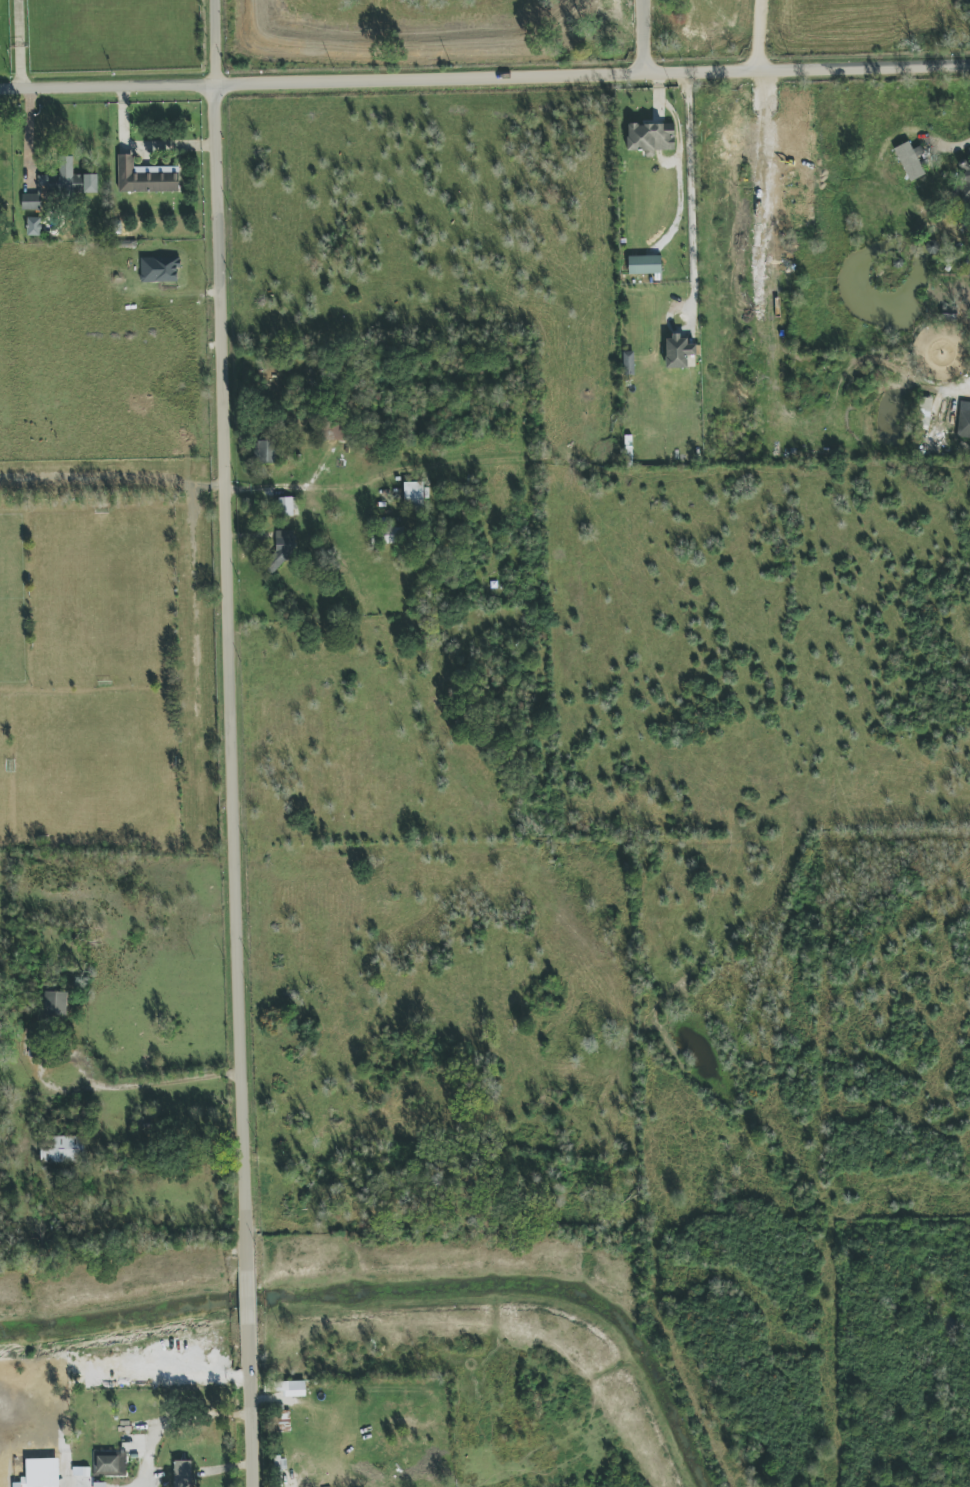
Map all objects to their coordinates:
road: (650, 35)
road: (19, 43)
road: (485, 74)
building: (651, 137)
road: (147, 145)
building: (910, 160)
building: (146, 177)
building: (70, 180)
building: (966, 188)
road: (690, 192)
building: (31, 202)
building: (34, 226)
building: (645, 265)
building: (679, 352)
building: (628, 360)
building: (924, 411)
building: (964, 421)
road: (230, 432)
building: (339, 432)
building: (265, 452)
road: (320, 489)
building: (414, 495)
building: (393, 535)
building: (281, 548)
building: (55, 1003)
road: (172, 1081)
building: (62, 1149)
road: (250, 1176)
building: (292, 1388)
road: (175, 1421)
building: (109, 1463)
building: (182, 1474)
building: (40, 1481)

